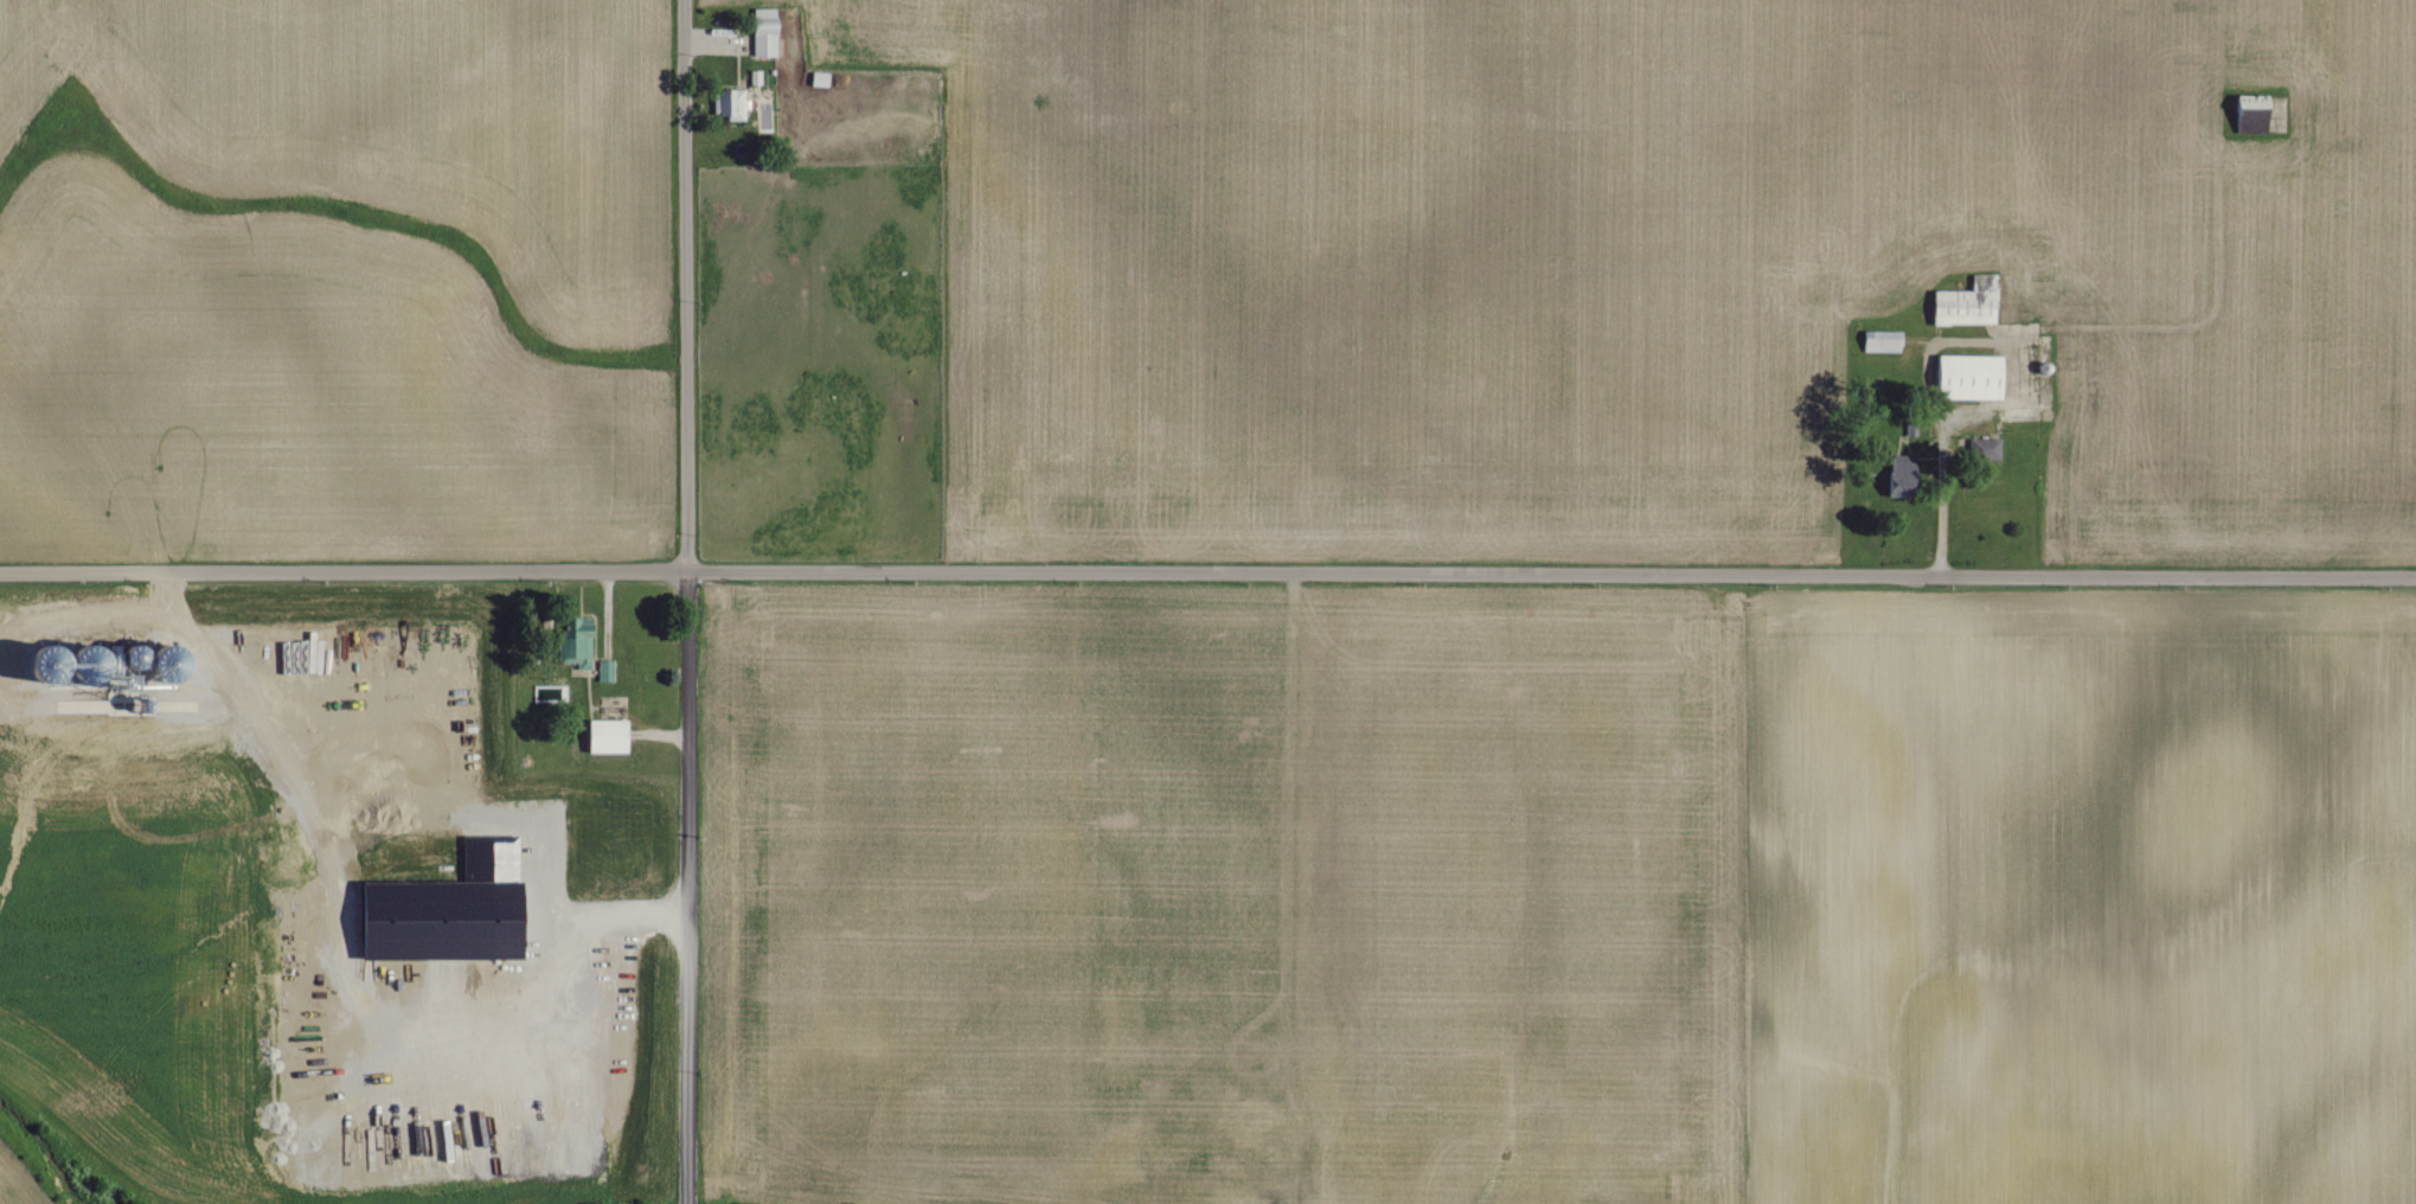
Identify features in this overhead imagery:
building: (768, 33)
building: (737, 105)
building: (1967, 300)
building: (1879, 341)
building: (1965, 377)
building: (1985, 448)
road: (1941, 520)
road: (1207, 571)
road: (686, 601)
building: (585, 646)
building: (609, 671)
building: (614, 736)
road: (660, 736)
road: (1284, 888)
building: (453, 910)
road: (348, 979)

